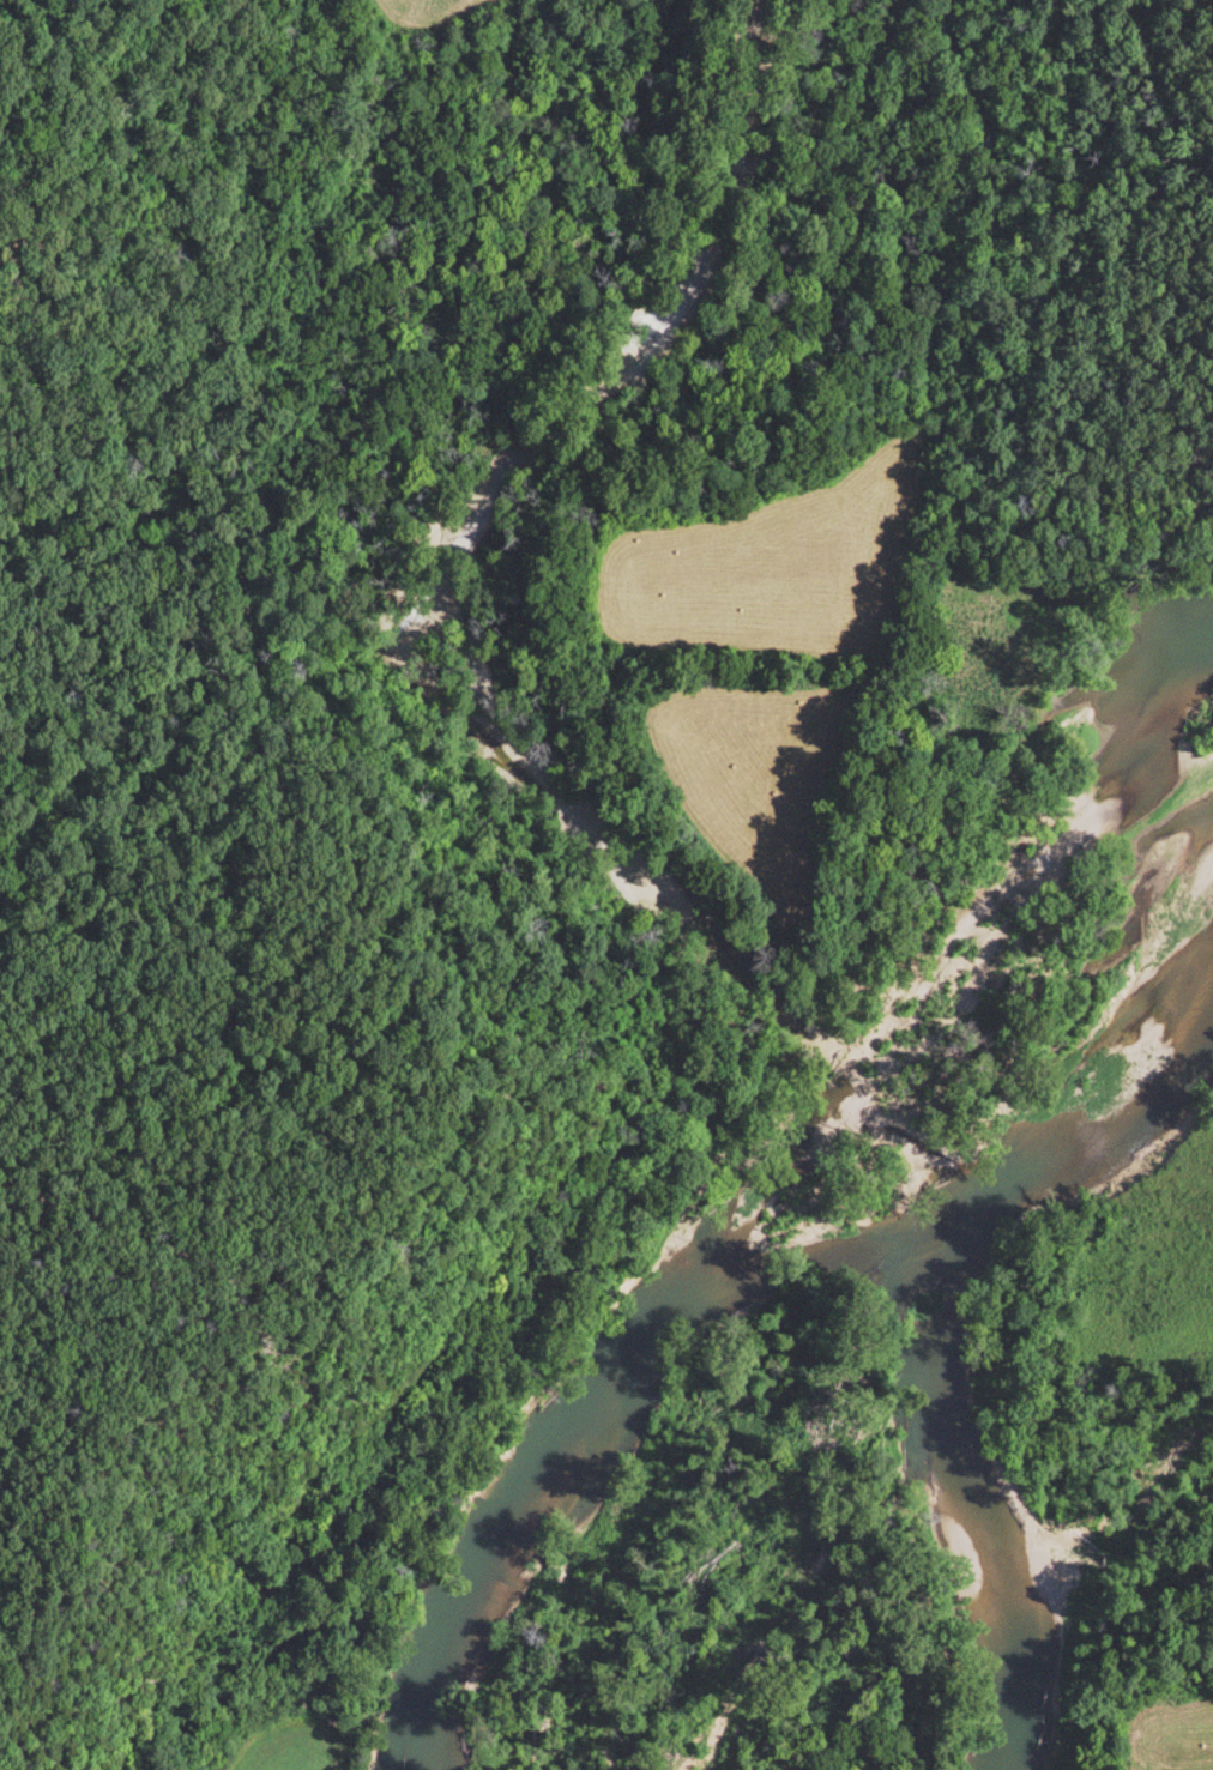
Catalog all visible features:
river: (816, 1256)

